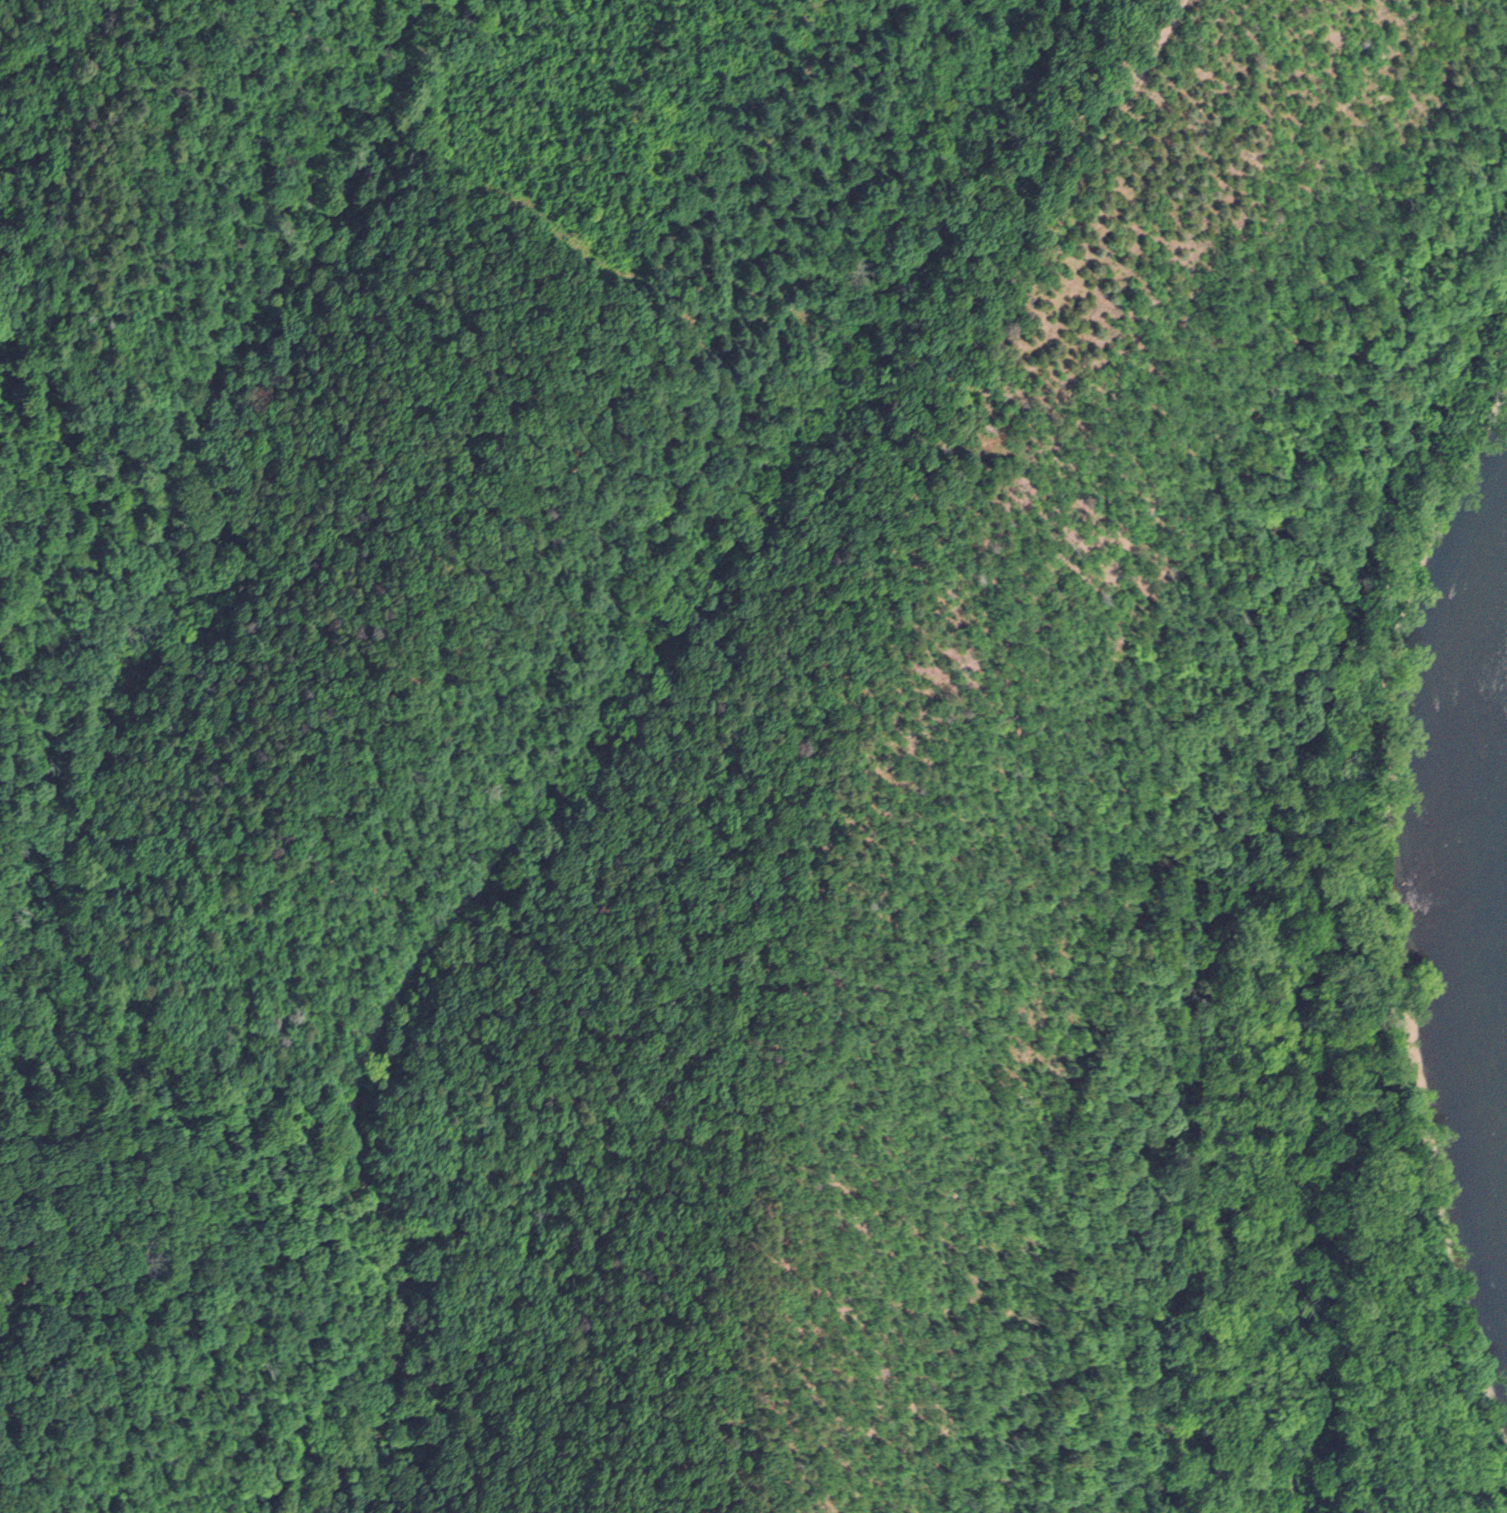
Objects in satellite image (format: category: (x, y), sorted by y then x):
road: (602, 697)
road: (1290, 904)

